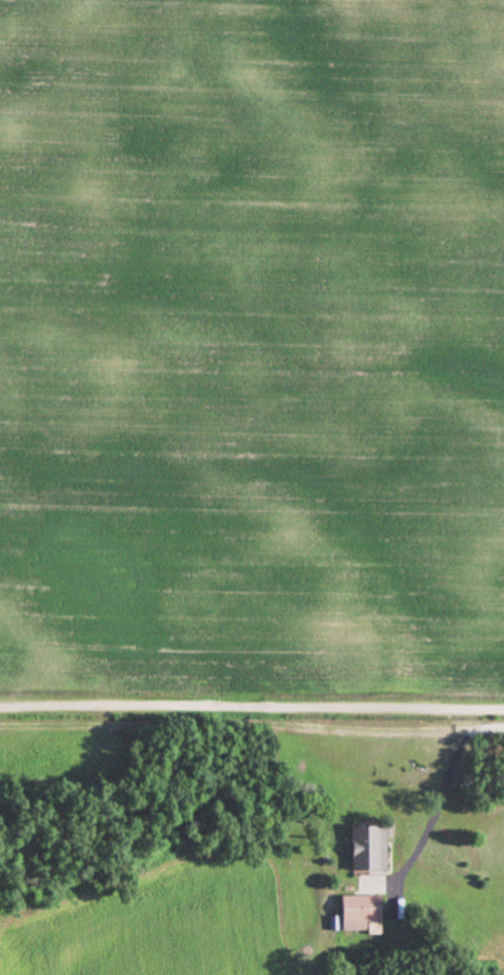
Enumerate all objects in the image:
road: (251, 700)
road: (450, 772)
building: (370, 847)
building: (362, 909)

